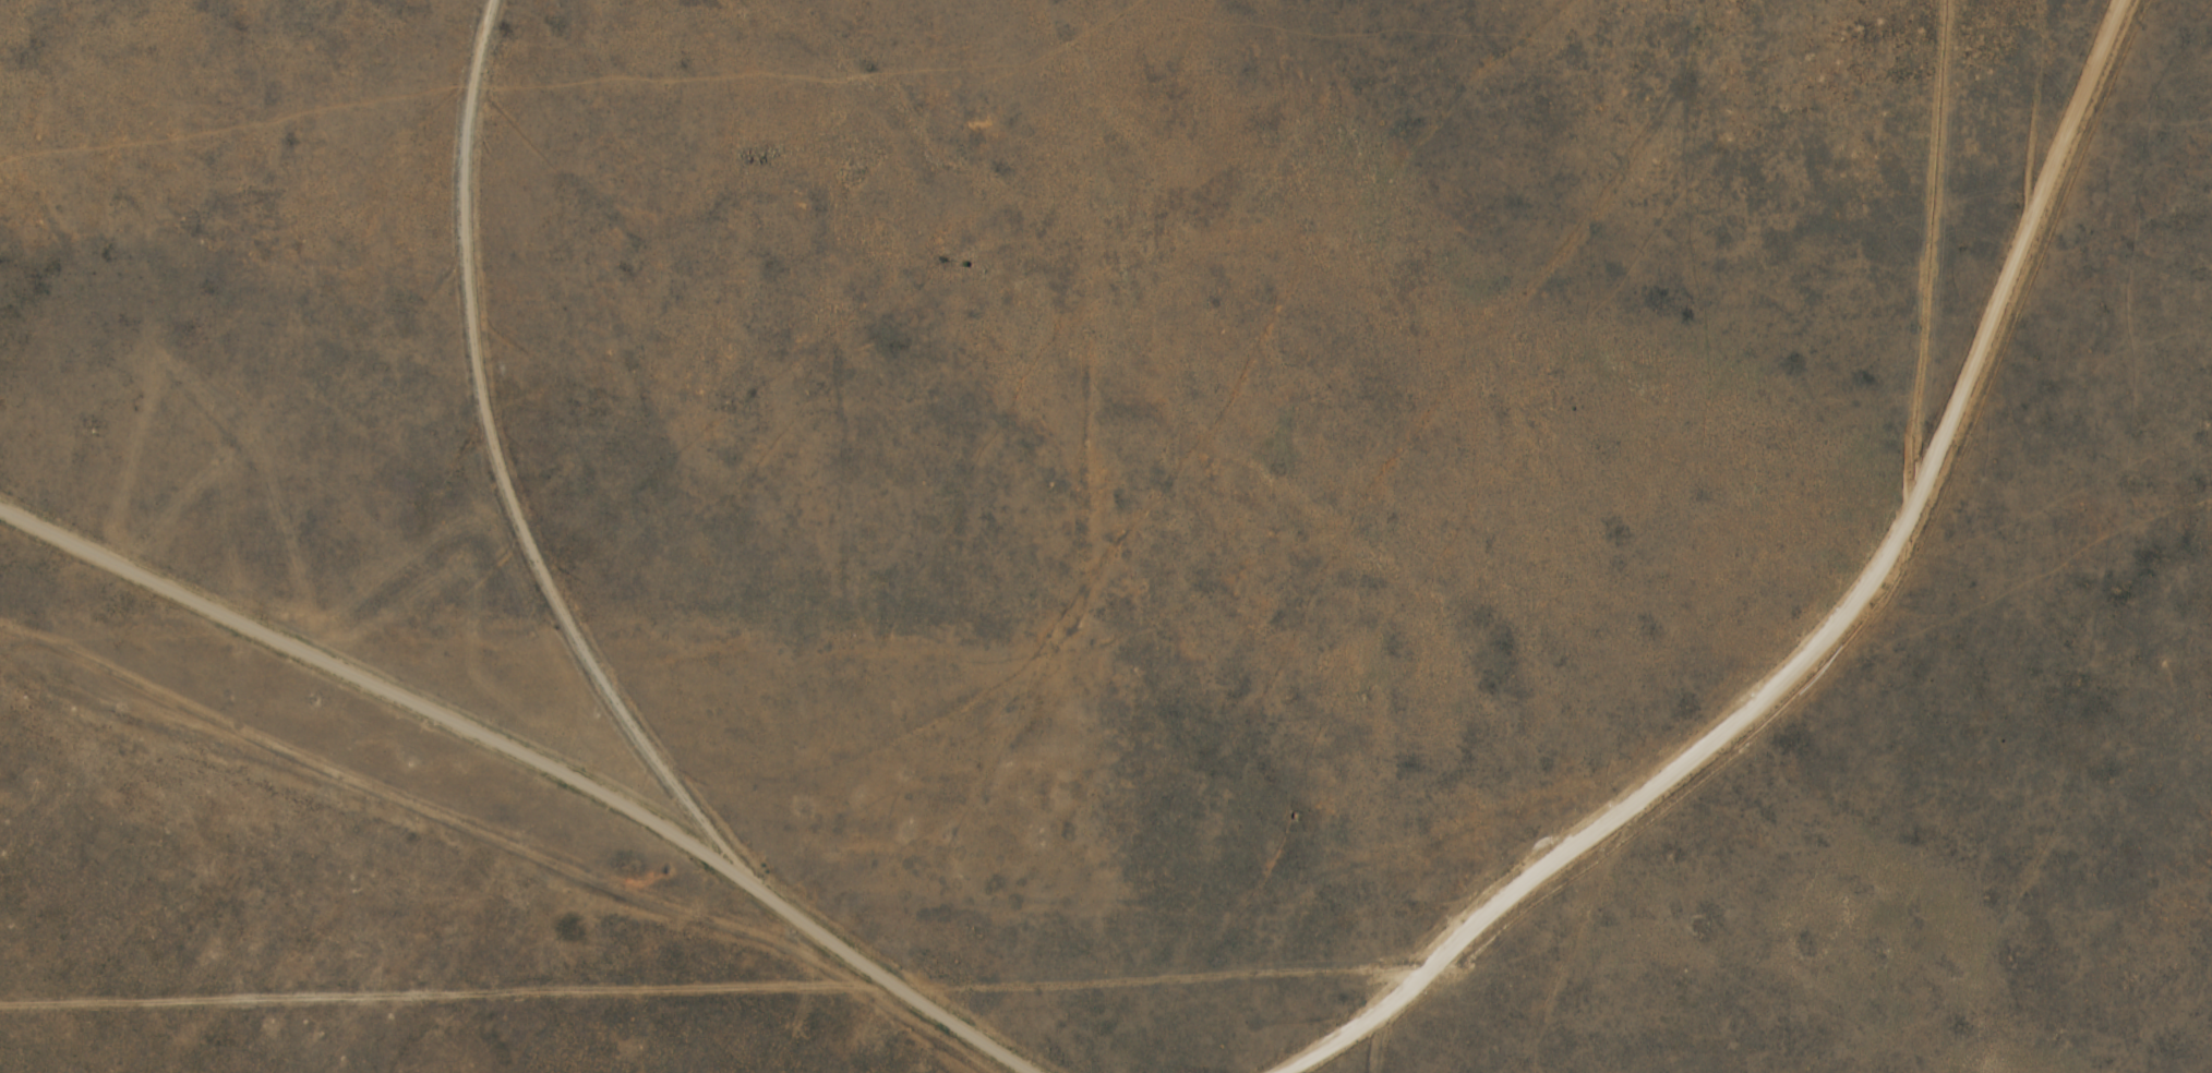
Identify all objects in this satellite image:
road: (2161, 534)

